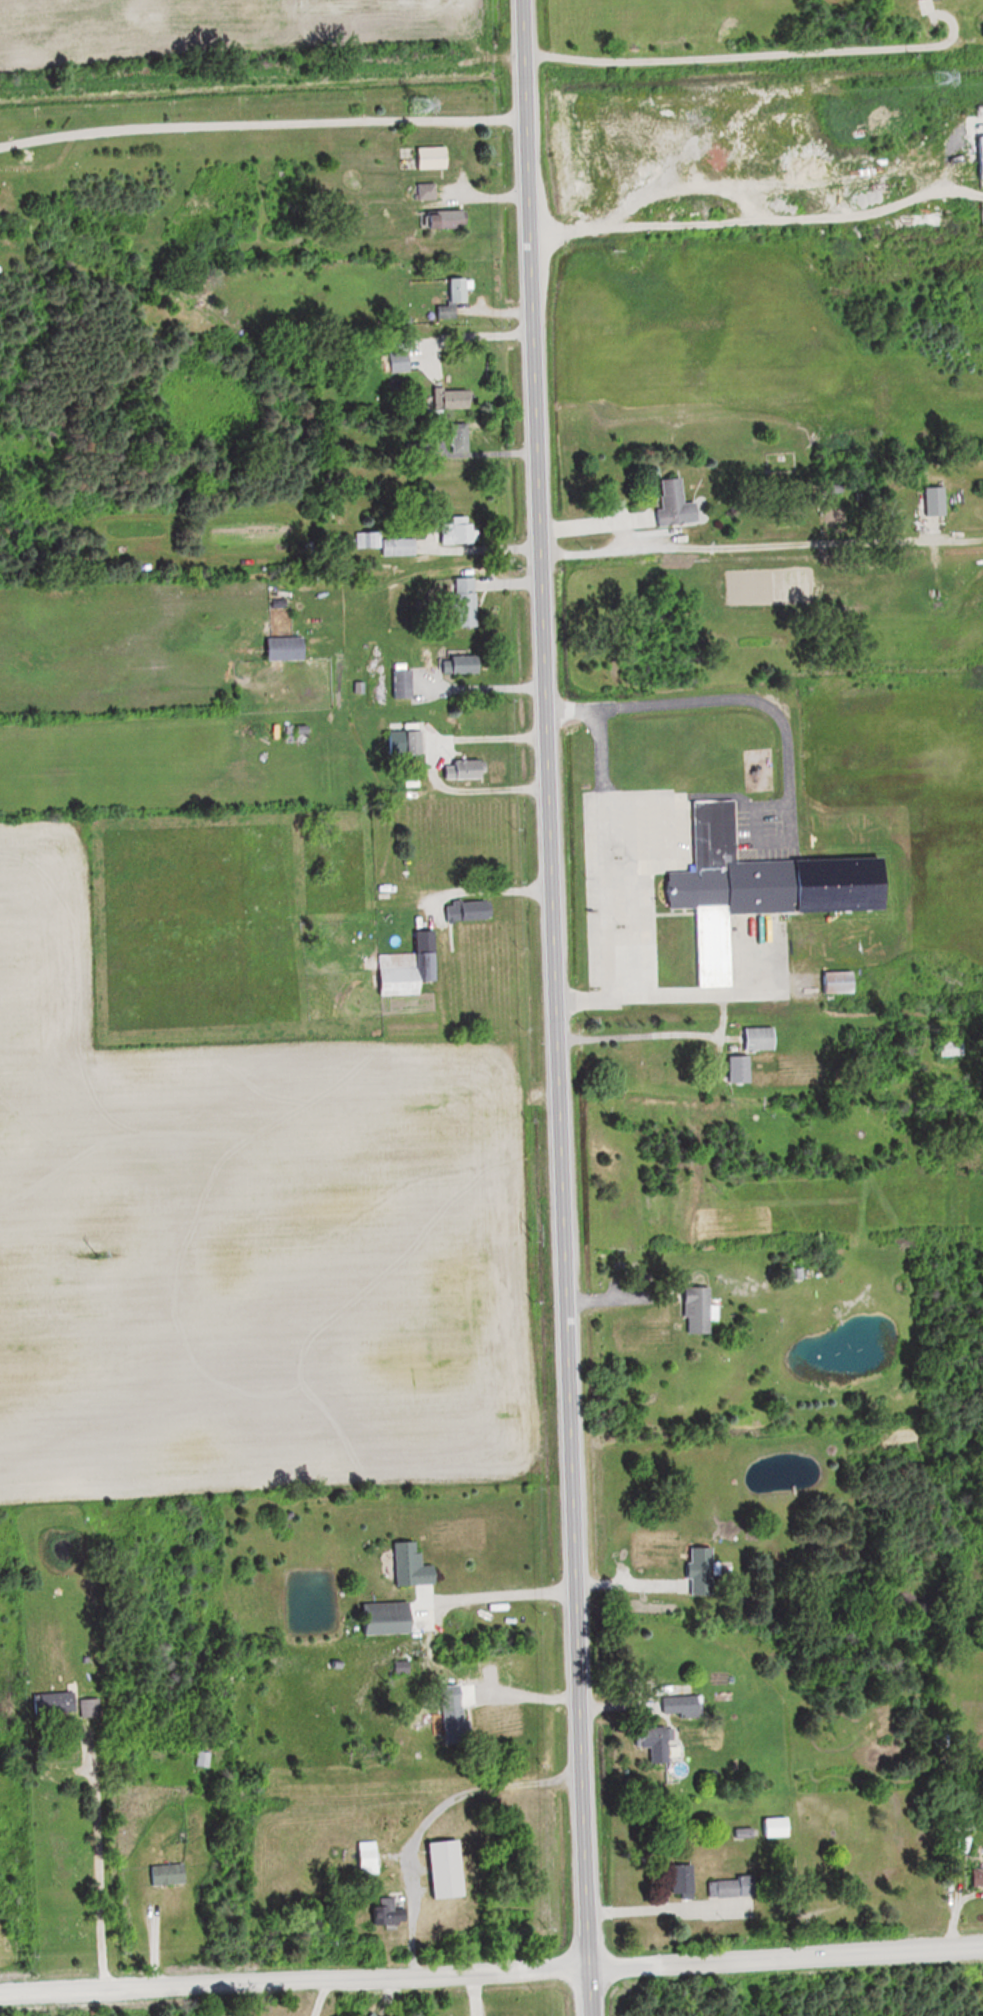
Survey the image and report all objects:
road: (762, 52)
power tower: (942, 76)
power tower: (418, 103)
road: (259, 128)
building: (435, 157)
building: (427, 191)
building: (449, 218)
road: (754, 219)
building: (455, 298)
road: (474, 338)
building: (400, 361)
building: (451, 398)
building: (679, 503)
building: (458, 532)
building: (388, 543)
road: (759, 544)
road: (477, 551)
building: (467, 591)
road: (760, 592)
building: (289, 648)
building: (463, 663)
building: (404, 684)
road: (476, 689)
road: (749, 702)
building: (407, 742)
road: (429, 760)
building: (467, 770)
road: (606, 861)
road: (482, 883)
parking lot: (627, 891)
building: (771, 902)
building: (471, 910)
building: (403, 974)
building: (840, 982)
road: (691, 997)
road: (551, 1008)
building: (752, 1038)
building: (940, 1050)
building: (730, 1069)
power tower: (532, 1237)
power tower: (101, 1259)
road: (615, 1297)
building: (688, 1310)
building: (415, 1566)
building: (693, 1571)
road: (625, 1582)
building: (391, 1618)
road: (426, 1641)
building: (57, 1704)
building: (674, 1705)
building: (456, 1726)
building: (646, 1736)
building: (203, 1759)
road: (420, 1818)
building: (956, 1822)
building: (769, 1826)
building: (371, 1859)
road: (100, 1862)
building: (450, 1870)
building: (169, 1875)
building: (973, 1877)
building: (676, 1881)
building: (726, 1887)
road: (662, 1908)
building: (389, 1912)
road: (491, 1979)

